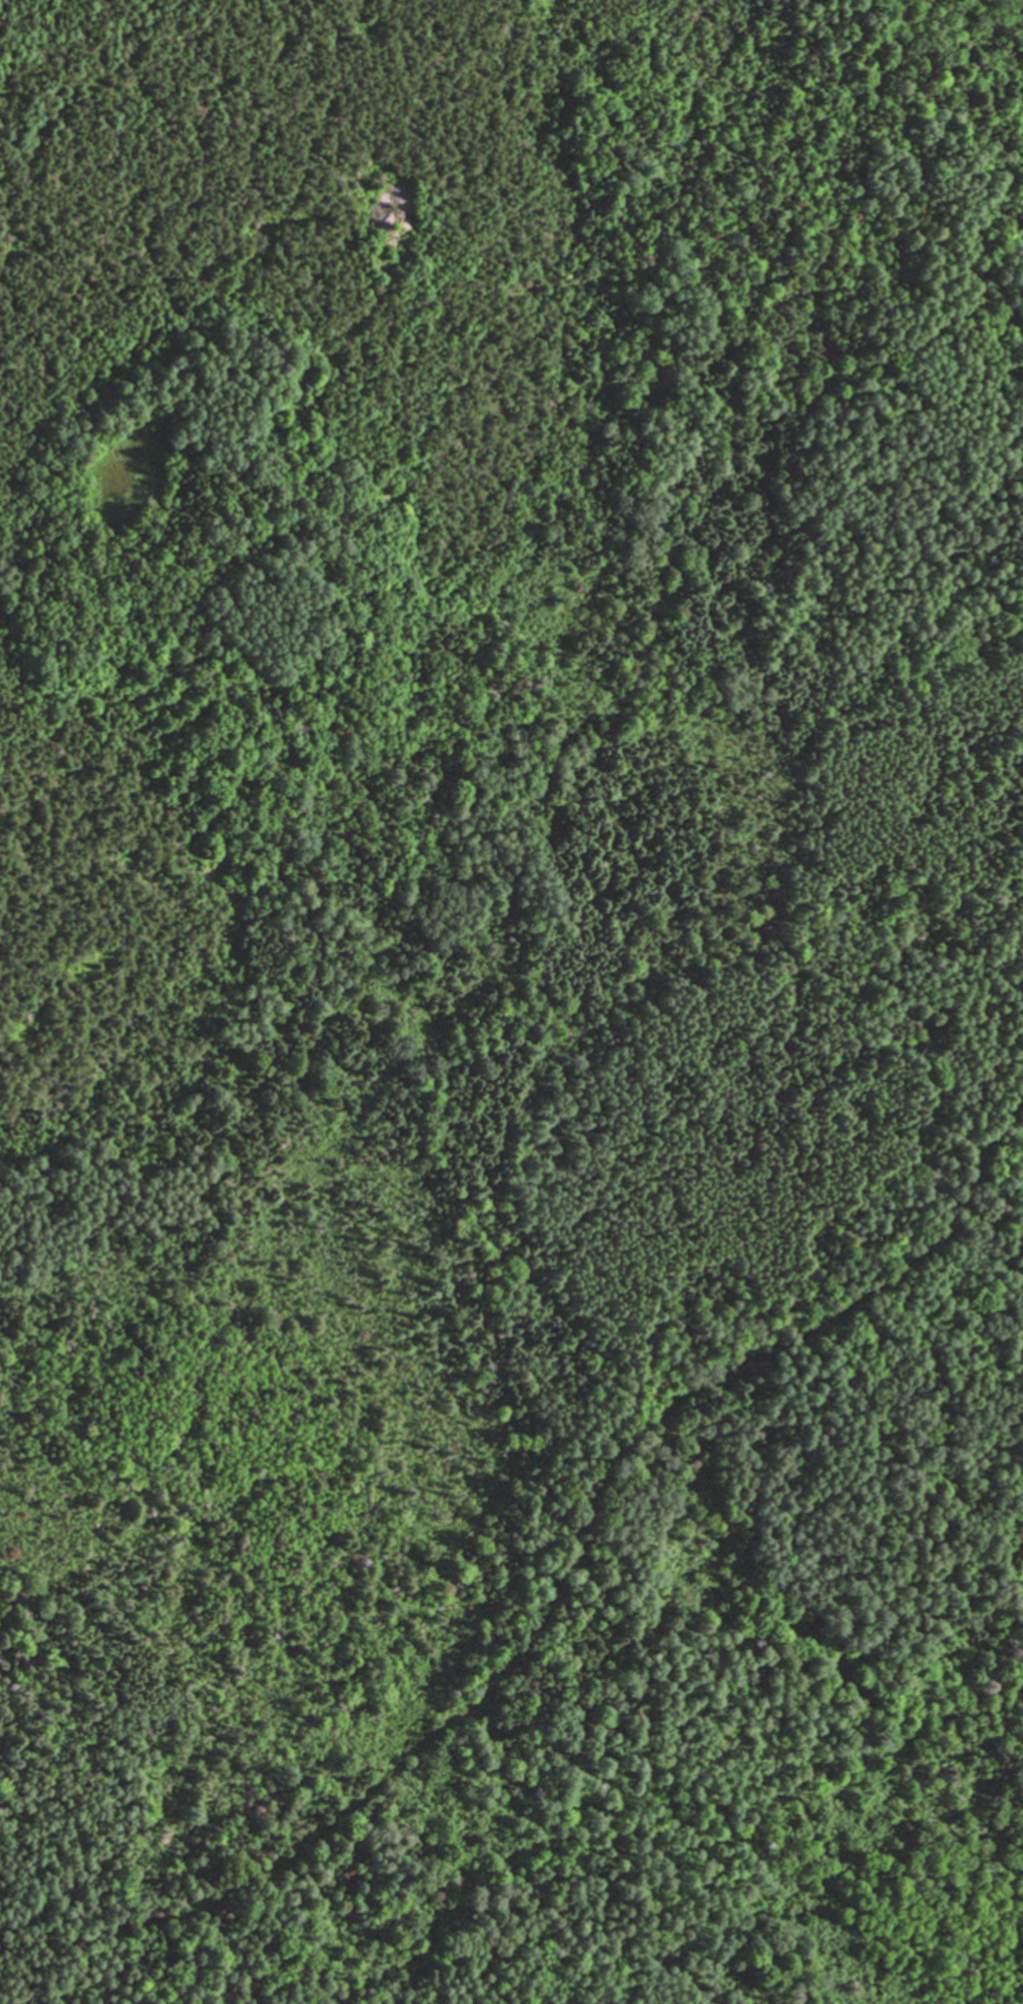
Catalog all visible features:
road: (537, 1537)

